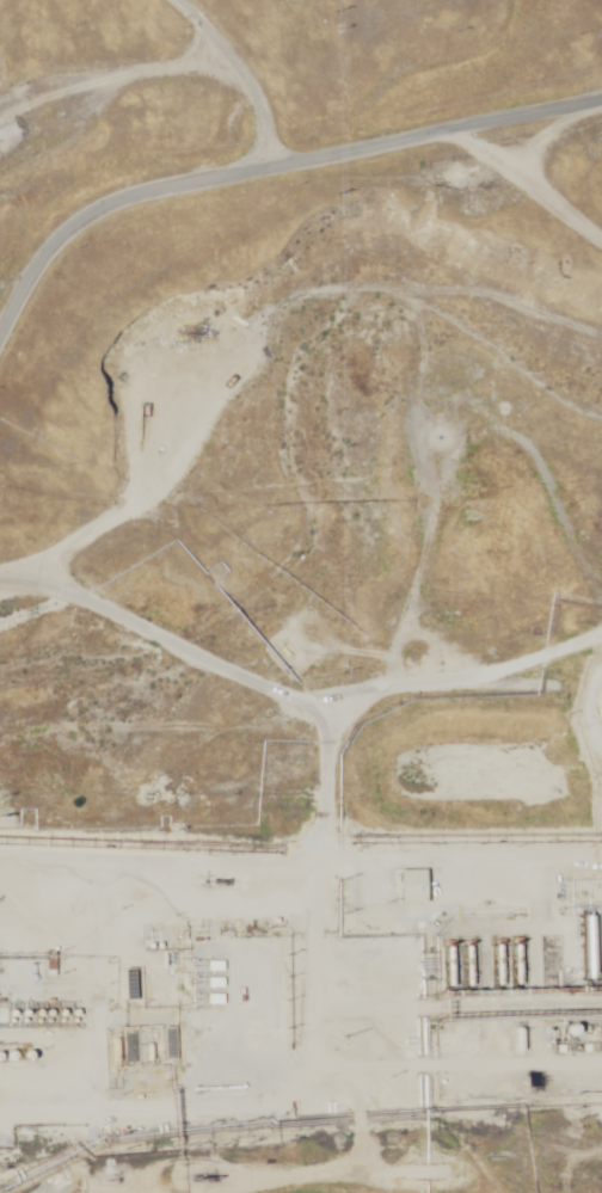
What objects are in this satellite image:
road: (128, 91)
road: (62, 102)
road: (274, 173)
road: (557, 187)
road: (251, 287)
road: (317, 601)
road: (289, 722)
road: (438, 867)
building: (412, 887)
road: (302, 1125)
road: (102, 1157)

